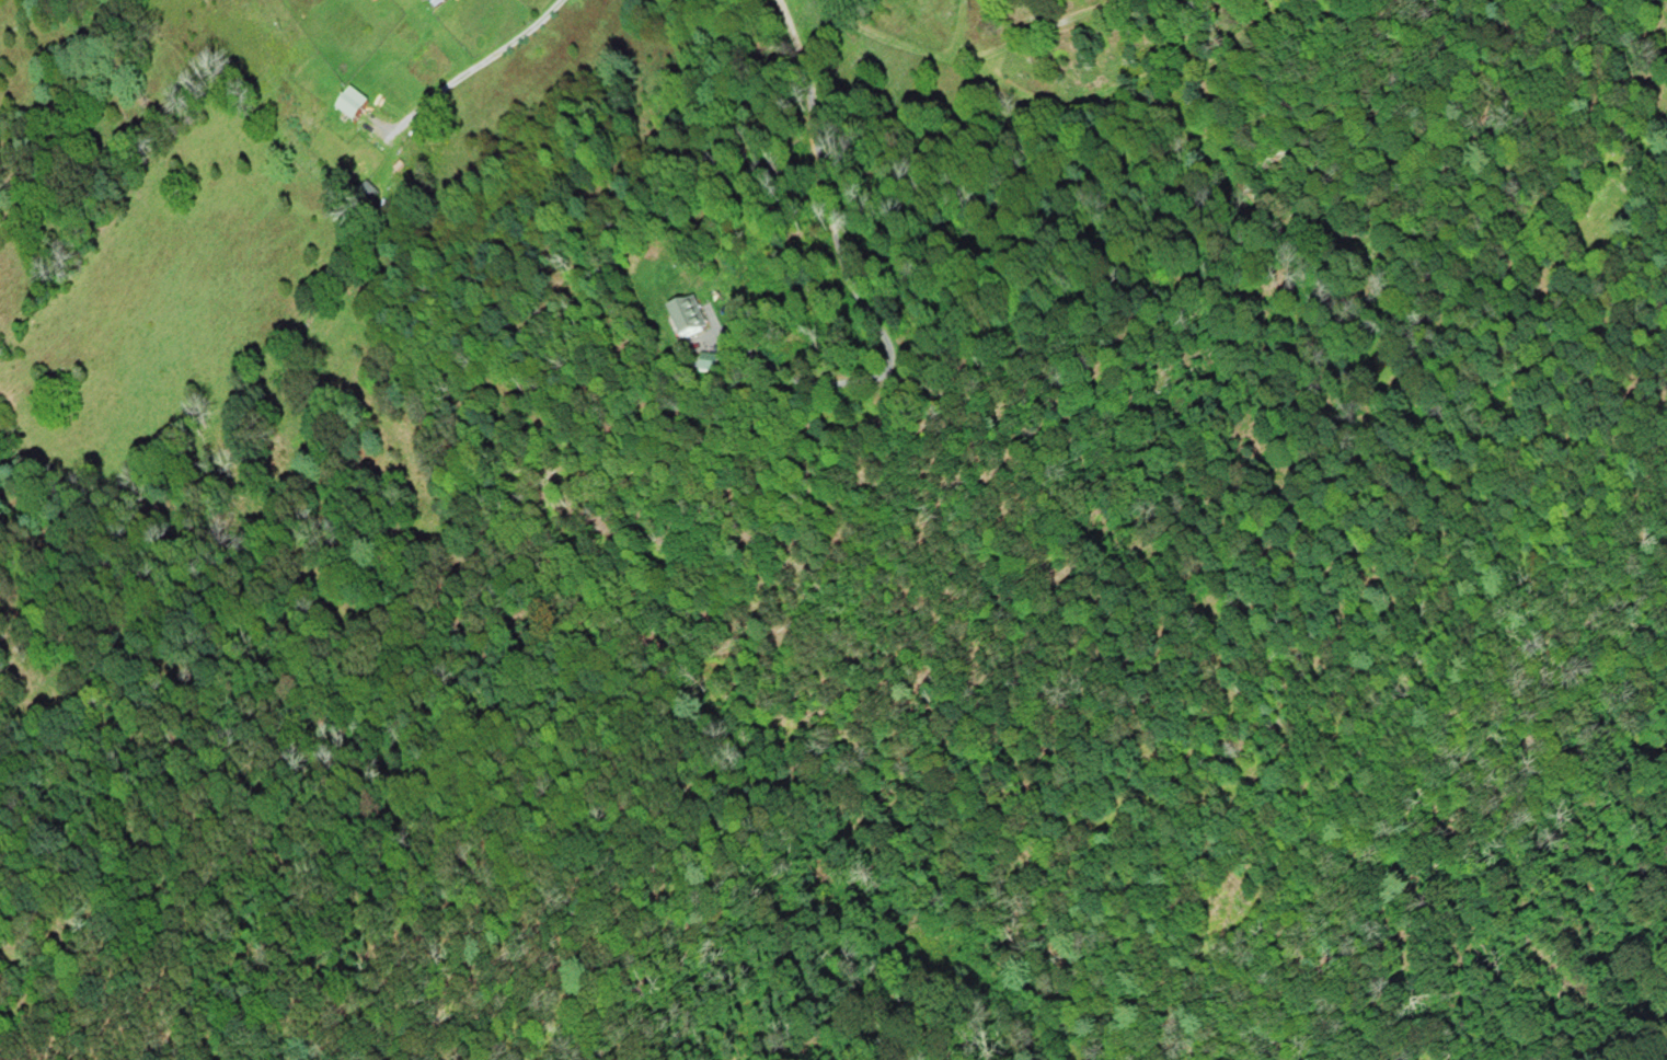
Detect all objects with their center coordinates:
road: (476, 60)
building: (359, 101)
road: (842, 262)
building: (690, 320)

